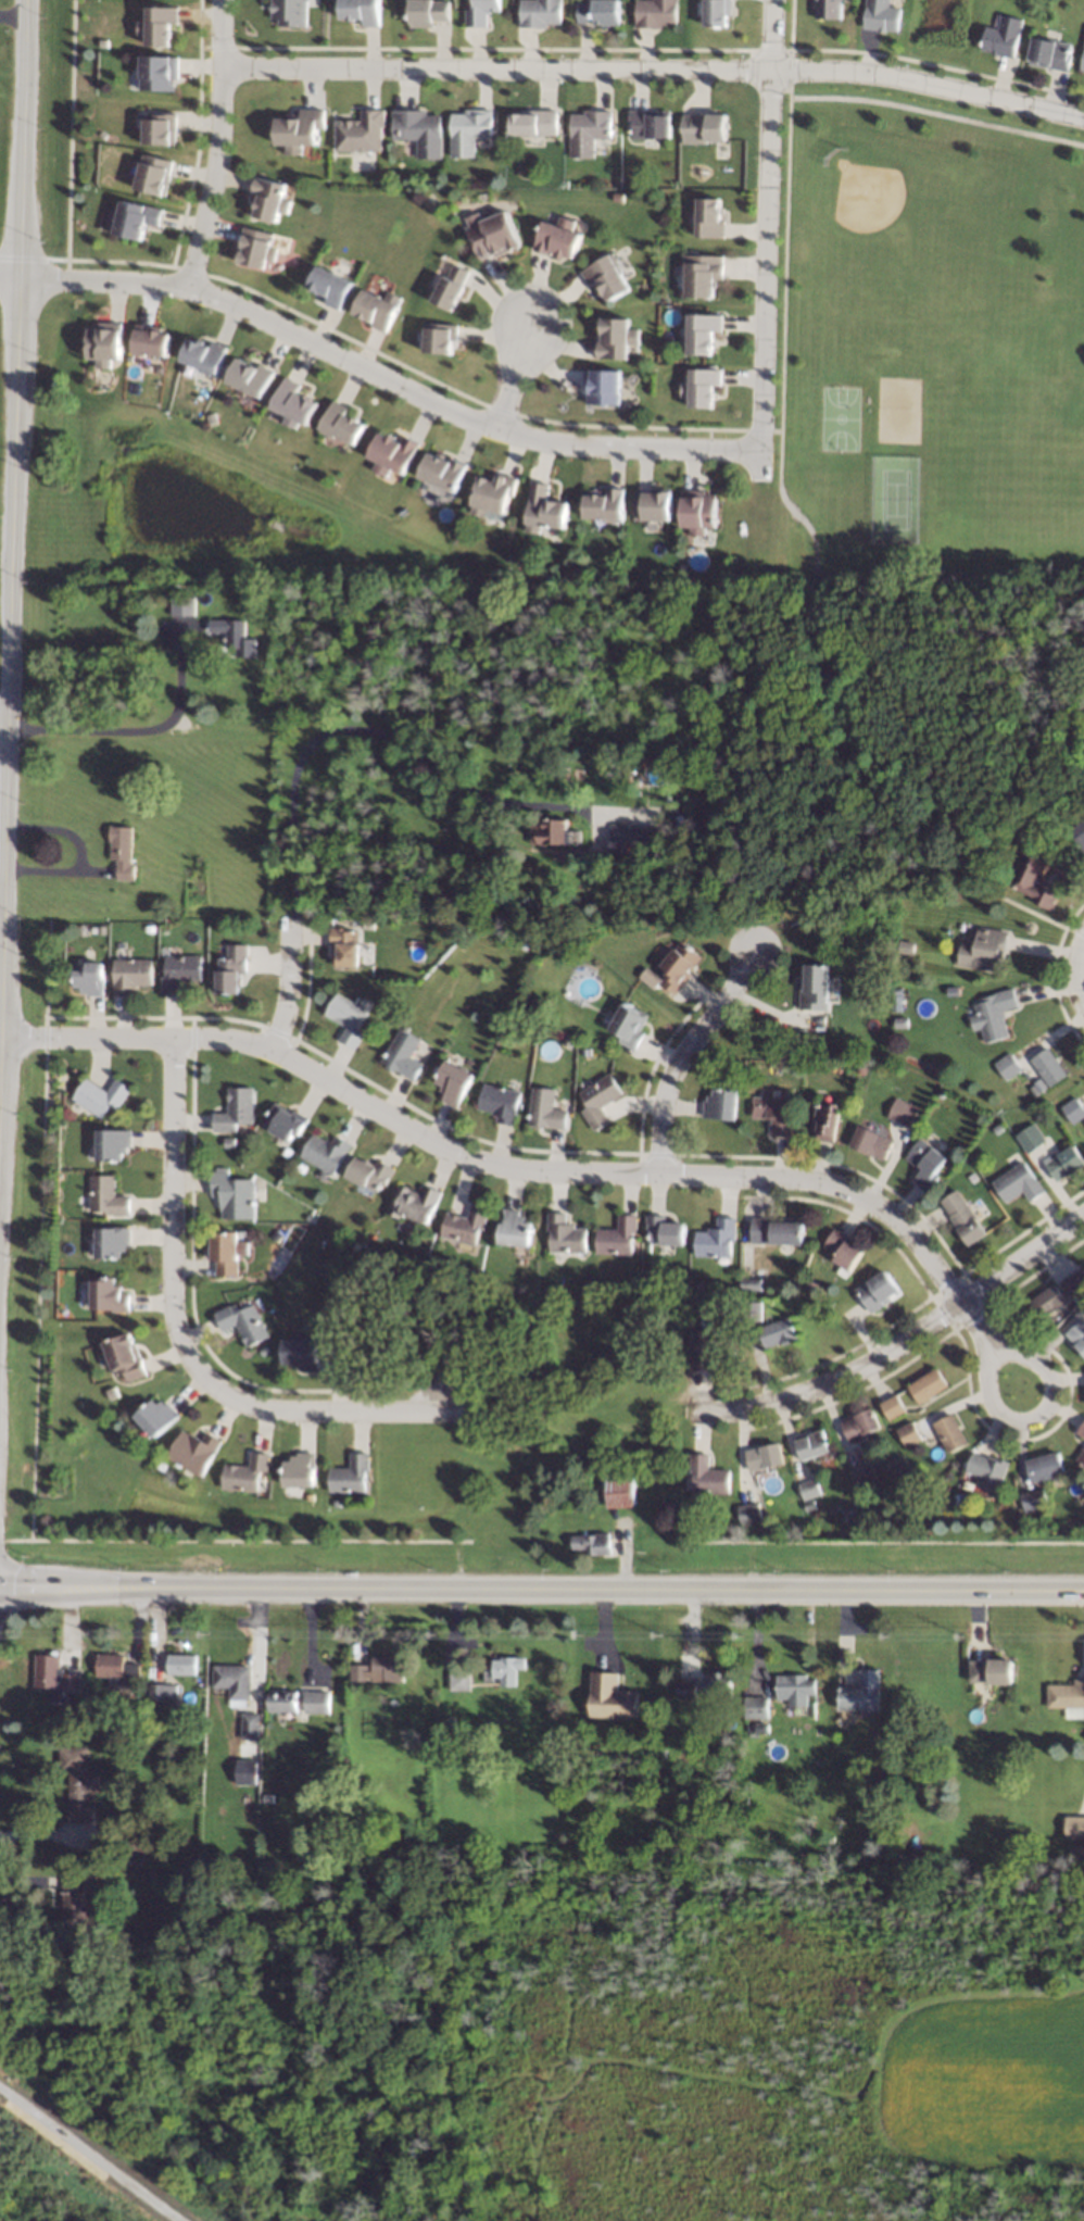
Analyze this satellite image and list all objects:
building: (827, 9)
building: (361, 11)
building: (290, 12)
building: (427, 12)
building: (600, 12)
building: (717, 12)
building: (479, 13)
building: (539, 13)
building: (656, 13)
building: (880, 15)
building: (160, 25)
building: (1003, 37)
road: (644, 48)
building: (1049, 53)
building: (1082, 64)
road: (656, 70)
building: (159, 73)
road: (937, 113)
building: (533, 123)
building: (650, 124)
building: (704, 127)
building: (159, 128)
building: (298, 130)
building: (418, 130)
building: (468, 130)
building: (588, 131)
building: (360, 133)
road: (198, 134)
road: (216, 142)
building: (153, 175)
building: (647, 195)
building: (267, 199)
building: (135, 218)
building: (709, 218)
building: (492, 235)
road: (766, 237)
building: (557, 238)
road: (785, 240)
park: (909, 242)
building: (255, 248)
road: (9, 271)
building: (702, 274)
building: (606, 276)
building: (329, 286)
building: (450, 286)
building: (375, 309)
building: (702, 332)
building: (439, 338)
building: (616, 338)
building: (149, 341)
building: (104, 343)
building: (203, 355)
road: (416, 372)
road: (385, 376)
building: (250, 377)
road: (514, 378)
building: (602, 387)
building: (701, 387)
building: (293, 404)
park: (899, 410)
park: (841, 418)
building: (340, 424)
road: (13, 450)
building: (390, 453)
building: (441, 472)
park: (923, 481)
building: (492, 494)
park: (893, 498)
building: (604, 504)
building: (652, 504)
park: (167, 505)
building: (543, 509)
building: (697, 511)
building: (180, 605)
building: (235, 636)
road: (3, 708)
road: (147, 732)
road: (378, 735)
road: (865, 754)
building: (442, 806)
building: (556, 832)
building: (1080, 833)
building: (640, 837)
building: (122, 852)
road: (79, 855)
building: (1034, 878)
building: (367, 925)
building: (216, 927)
building: (101, 929)
building: (149, 929)
building: (559, 939)
building: (525, 944)
building: (906, 944)
building: (343, 946)
road: (1081, 948)
building: (984, 950)
building: (677, 966)
building: (230, 969)
building: (179, 973)
road: (1055, 973)
building: (129, 975)
road: (1081, 976)
building: (89, 978)
road: (306, 981)
road: (288, 983)
building: (815, 988)
building: (953, 990)
building: (994, 1015)
building: (346, 1019)
building: (580, 1022)
building: (902, 1022)
building: (627, 1025)
building: (565, 1041)
building: (621, 1047)
building: (546, 1051)
building: (402, 1055)
road: (681, 1055)
road: (652, 1065)
building: (1008, 1066)
building: (1048, 1067)
building: (861, 1069)
building: (453, 1082)
building: (1039, 1082)
building: (941, 1093)
building: (783, 1095)
building: (100, 1096)
building: (597, 1101)
building: (499, 1103)
building: (720, 1105)
building: (544, 1109)
building: (1073, 1109)
building: (236, 1110)
building: (903, 1112)
building: (772, 1114)
building: (825, 1120)
building: (285, 1121)
building: (997, 1129)
building: (1030, 1138)
building: (229, 1142)
building: (870, 1142)
building: (112, 1144)
building: (287, 1152)
building: (326, 1152)
road: (492, 1160)
building: (1064, 1163)
building: (925, 1164)
road: (836, 1165)
building: (302, 1168)
building: (369, 1174)
building: (971, 1178)
building: (1017, 1183)
road: (174, 1193)
building: (232, 1194)
building: (108, 1196)
building: (415, 1203)
building: (962, 1217)
building: (466, 1224)
building: (515, 1228)
road: (39, 1229)
building: (776, 1230)
building: (665, 1231)
building: (565, 1234)
building: (618, 1237)
building: (278, 1238)
building: (716, 1239)
building: (308, 1240)
building: (112, 1242)
building: (341, 1250)
building: (842, 1251)
building: (225, 1253)
road: (191, 1260)
road: (1022, 1262)
building: (655, 1279)
building: (1073, 1282)
building: (751, 1283)
building: (697, 1285)
building: (810, 1285)
building: (875, 1291)
building: (109, 1296)
building: (1046, 1302)
building: (1083, 1304)
building: (751, 1312)
road: (897, 1319)
building: (243, 1322)
road: (975, 1327)
building: (777, 1332)
building: (1076, 1335)
building: (327, 1343)
building: (709, 1346)
building: (520, 1351)
road: (919, 1353)
building: (301, 1354)
building: (125, 1357)
road: (832, 1380)
building: (927, 1384)
building: (112, 1392)
building: (891, 1406)
road: (301, 1409)
building: (156, 1417)
road: (1032, 1417)
building: (859, 1423)
building: (1080, 1430)
building: (948, 1433)
building: (908, 1434)
building: (811, 1445)
building: (194, 1452)
building: (762, 1456)
building: (1080, 1457)
building: (162, 1466)
building: (1043, 1467)
building: (300, 1470)
building: (985, 1470)
building: (245, 1473)
building: (861, 1473)
building: (350, 1476)
building: (706, 1476)
building: (808, 1489)
building: (618, 1493)
building: (1031, 1500)
building: (1000, 1502)
building: (884, 1504)
building: (808, 1506)
building: (748, 1514)
road: (235, 1541)
road: (884, 1542)
building: (591, 1543)
road: (542, 1590)
building: (180, 1666)
building: (378, 1671)
building: (504, 1671)
building: (993, 1671)
building: (117, 1676)
building: (53, 1678)
building: (458, 1682)
building: (231, 1683)
building: (716, 1685)
building: (792, 1685)
building: (91, 1686)
building: (685, 1691)
building: (860, 1693)
building: (160, 1694)
building: (612, 1698)
building: (1067, 1698)
building: (316, 1702)
building: (287, 1704)
building: (754, 1708)
building: (449, 1724)
building: (165, 1726)
building: (248, 1727)
building: (759, 1729)
building: (252, 1769)
building: (76, 1784)
building: (353, 1784)
building: (877, 1789)
building: (1062, 1822)
building: (1076, 1829)
road: (46, 1836)
building: (825, 1841)
building: (1019, 1843)
building: (130, 1852)
building: (189, 1882)
building: (77, 1905)
crop: (985, 2082)
park: (40, 2191)

